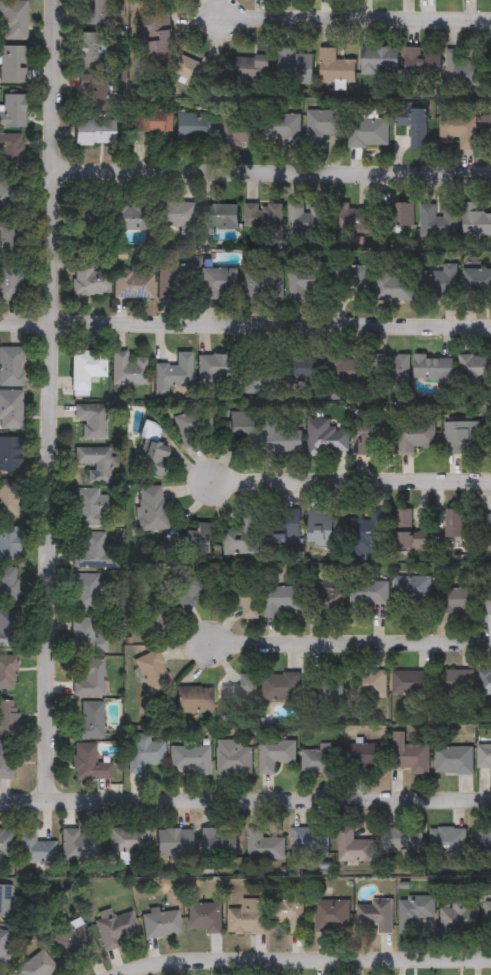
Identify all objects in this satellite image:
building: (95, 12)
road: (355, 16)
building: (12, 20)
building: (159, 35)
building: (91, 50)
building: (379, 61)
building: (12, 64)
building: (421, 64)
building: (464, 65)
building: (251, 66)
building: (335, 67)
building: (294, 68)
building: (194, 72)
building: (13, 111)
building: (150, 121)
building: (413, 124)
building: (322, 125)
building: (193, 126)
building: (283, 127)
building: (237, 128)
building: (486, 128)
building: (458, 130)
building: (368, 133)
building: (92, 134)
building: (10, 152)
road: (273, 170)
building: (9, 192)
building: (87, 215)
building: (400, 215)
building: (176, 216)
building: (129, 217)
building: (262, 217)
building: (218, 218)
building: (303, 218)
building: (350, 219)
building: (437, 222)
building: (476, 225)
building: (10, 240)
building: (89, 281)
building: (354, 281)
building: (176, 282)
building: (11, 283)
building: (438, 283)
building: (132, 284)
building: (220, 284)
building: (476, 284)
building: (262, 286)
building: (308, 287)
building: (395, 288)
road: (245, 325)
building: (11, 367)
building: (305, 367)
building: (434, 368)
building: (127, 369)
building: (475, 369)
building: (259, 370)
building: (215, 371)
building: (347, 371)
building: (173, 373)
building: (395, 373)
road: (51, 399)
building: (10, 410)
building: (92, 421)
building: (192, 425)
building: (237, 428)
building: (369, 436)
building: (416, 436)
building: (462, 436)
building: (280, 438)
building: (328, 439)
building: (150, 451)
building: (10, 455)
building: (94, 464)
road: (349, 478)
building: (10, 498)
building: (90, 508)
building: (152, 509)
building: (320, 526)
building: (458, 526)
building: (484, 526)
building: (282, 531)
building: (370, 531)
building: (410, 532)
building: (198, 538)
building: (240, 541)
building: (10, 543)
building: (94, 553)
building: (8, 585)
building: (190, 586)
building: (88, 592)
building: (368, 593)
building: (242, 596)
building: (411, 596)
building: (488, 599)
building: (327, 600)
building: (281, 601)
building: (459, 601)
building: (151, 621)
building: (7, 629)
building: (86, 637)
road: (350, 640)
building: (153, 671)
building: (8, 673)
building: (89, 678)
building: (485, 682)
building: (452, 683)
building: (408, 684)
building: (281, 686)
building: (242, 688)
building: (324, 690)
building: (369, 691)
building: (193, 700)
building: (8, 718)
building: (89, 722)
building: (144, 753)
building: (271, 755)
building: (408, 755)
building: (368, 757)
building: (484, 757)
building: (232, 758)
building: (190, 760)
building: (453, 760)
building: (6, 761)
building: (320, 761)
building: (88, 764)
road: (245, 800)
building: (127, 839)
building: (401, 839)
building: (447, 839)
building: (309, 840)
building: (483, 840)
building: (5, 842)
building: (173, 842)
building: (80, 843)
building: (217, 844)
building: (264, 845)
building: (353, 846)
building: (35, 848)
building: (5, 901)
building: (288, 910)
building: (414, 910)
building: (332, 914)
building: (375, 914)
building: (488, 915)
building: (204, 917)
building: (247, 917)
building: (458, 917)
building: (160, 923)
building: (114, 927)
building: (73, 940)
building: (3, 947)
road: (308, 958)
building: (36, 965)

